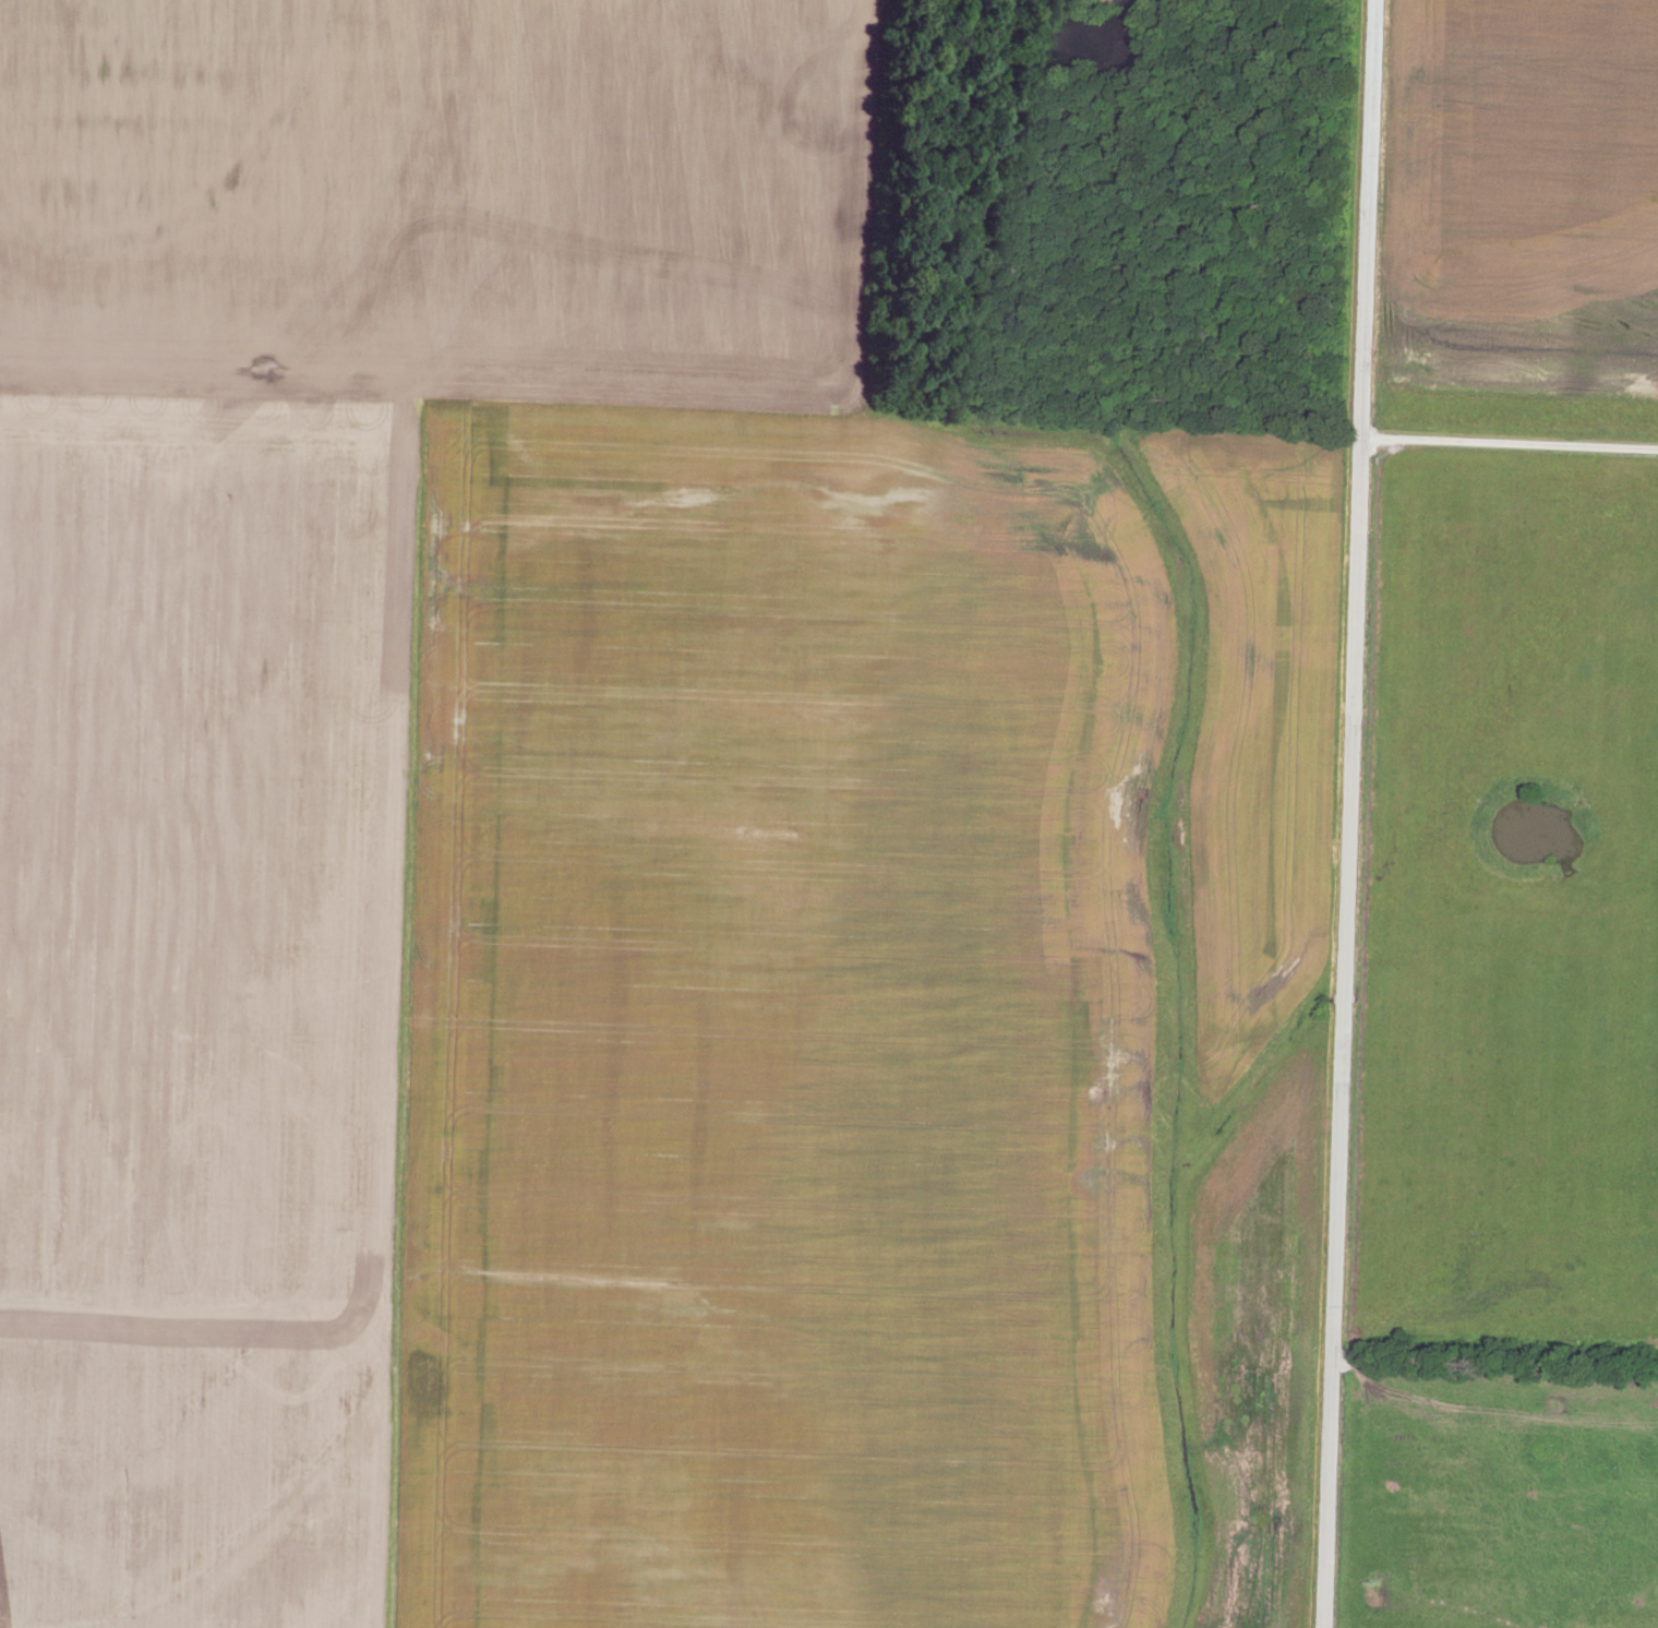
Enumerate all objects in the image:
road: (1507, 446)
road: (1345, 814)

